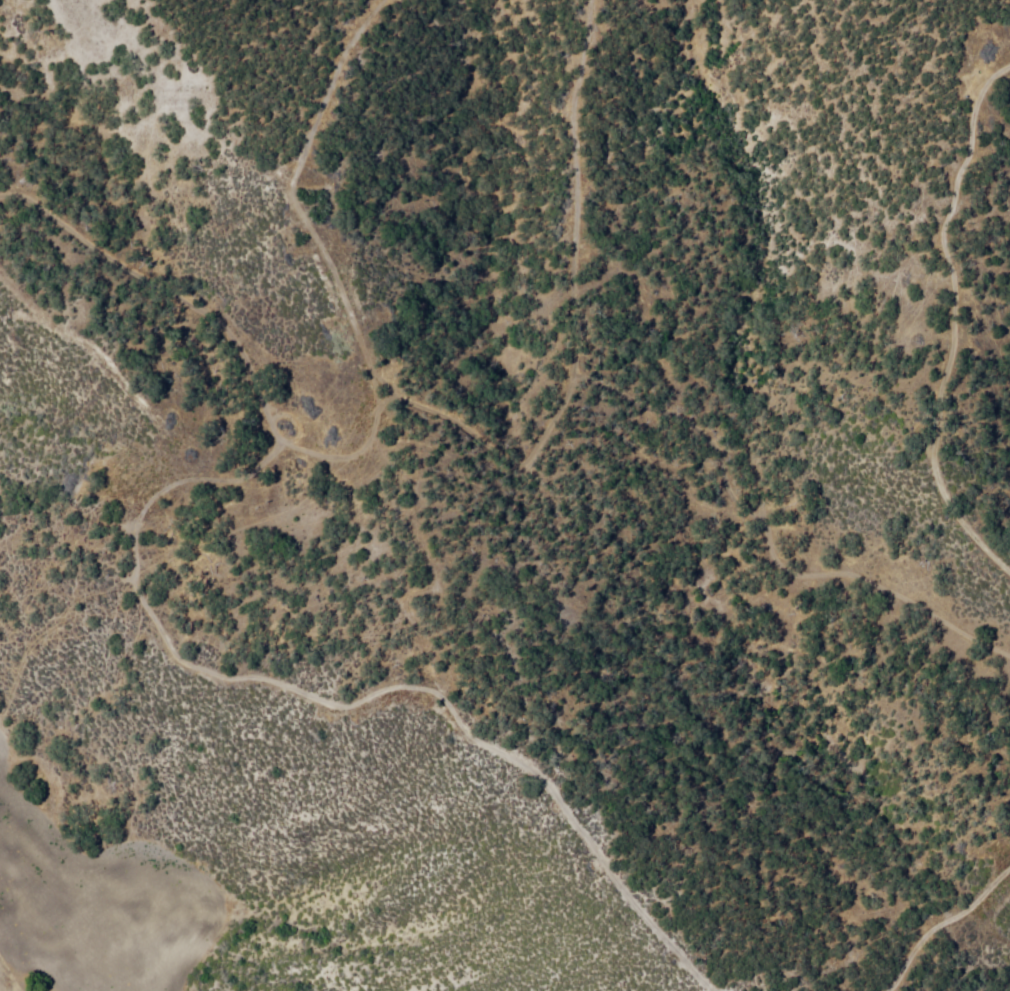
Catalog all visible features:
road: (3, 985)

